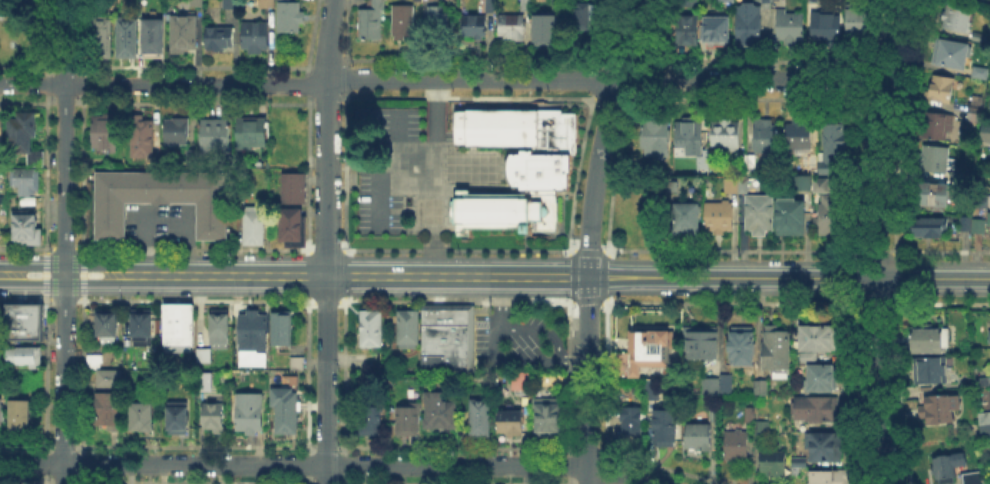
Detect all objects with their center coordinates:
building: (419, 0)
building: (723, 0)
building: (774, 0)
building: (267, 3)
building: (198, 4)
building: (230, 4)
building: (490, 5)
building: (525, 6)
building: (563, 6)
building: (584, 15)
building: (954, 15)
building: (290, 17)
building: (370, 20)
building: (746, 20)
building: (402, 21)
building: (786, 21)
building: (855, 21)
building: (437, 22)
building: (823, 23)
building: (474, 26)
building: (685, 26)
building: (511, 27)
building: (714, 27)
building: (546, 30)
park: (22, 31)
building: (183, 34)
building: (153, 36)
building: (254, 36)
building: (126, 37)
building: (219, 37)
building: (101, 39)
building: (978, 39)
road: (64, 42)
building: (950, 51)
building: (983, 62)
building: (978, 70)
road: (477, 79)
road: (32, 84)
building: (937, 87)
building: (973, 102)
building: (971, 115)
building: (934, 124)
parking lot: (387, 125)
building: (1, 129)
building: (984, 130)
building: (105, 132)
building: (20, 133)
building: (251, 133)
building: (653, 133)
building: (761, 133)
road: (604, 134)
building: (723, 134)
building: (176, 135)
building: (686, 135)
building: (833, 135)
building: (214, 137)
building: (795, 137)
building: (143, 141)
building: (932, 156)
building: (701, 157)
building: (745, 165)
building: (521, 166)
building: (825, 167)
road: (437, 170)
road: (380, 176)
building: (27, 181)
building: (801, 181)
building: (819, 182)
building: (728, 183)
building: (741, 183)
building: (296, 189)
building: (931, 191)
building: (162, 199)
parking lot: (376, 204)
building: (756, 211)
building: (716, 214)
building: (787, 214)
building: (682, 215)
building: (826, 217)
building: (963, 221)
parking lot: (161, 222)
building: (253, 223)
building: (976, 224)
building: (926, 225)
building: (293, 226)
building: (26, 228)
road: (326, 241)
road: (876, 241)
road: (187, 243)
road: (142, 244)
road: (62, 247)
road: (66, 265)
road: (44, 272)
road: (81, 272)
road: (561, 277)
traffic signals: (588, 277)
road: (65, 281)
road: (64, 284)
road: (62, 297)
road: (495, 318)
building: (23, 320)
building: (179, 324)
building: (1, 326)
building: (107, 327)
building: (141, 327)
building: (371, 328)
building: (280, 329)
building: (408, 329)
building: (219, 330)
building: (253, 330)
building: (989, 334)
building: (448, 337)
building: (820, 338)
building: (930, 339)
parking lot: (516, 342)
building: (702, 343)
building: (743, 345)
road: (555, 347)
building: (777, 350)
building: (652, 351)
building: (24, 356)
building: (203, 356)
road: (572, 358)
building: (94, 362)
building: (237, 362)
building: (296, 363)
building: (931, 371)
building: (109, 378)
building: (822, 378)
building: (520, 380)
road: (587, 380)
building: (204, 383)
building: (727, 383)
building: (712, 385)
building: (761, 387)
building: (652, 389)
building: (989, 390)
building: (816, 408)
building: (940, 408)
building: (108, 410)
building: (285, 410)
building: (1, 411)
building: (439, 411)
building: (249, 412)
building: (19, 415)
building: (751, 415)
building: (141, 416)
building: (480, 416)
building: (214, 417)
building: (548, 417)
building: (178, 418)
building: (632, 419)
building: (408, 420)
building: (370, 421)
building: (510, 422)
building: (985, 426)
building: (666, 427)
building: (762, 428)
building: (698, 437)
building: (736, 445)
building: (825, 446)
building: (800, 462)
building: (773, 463)
road: (328, 465)
building: (948, 467)
building: (831, 477)
building: (972, 478)
building: (989, 483)

